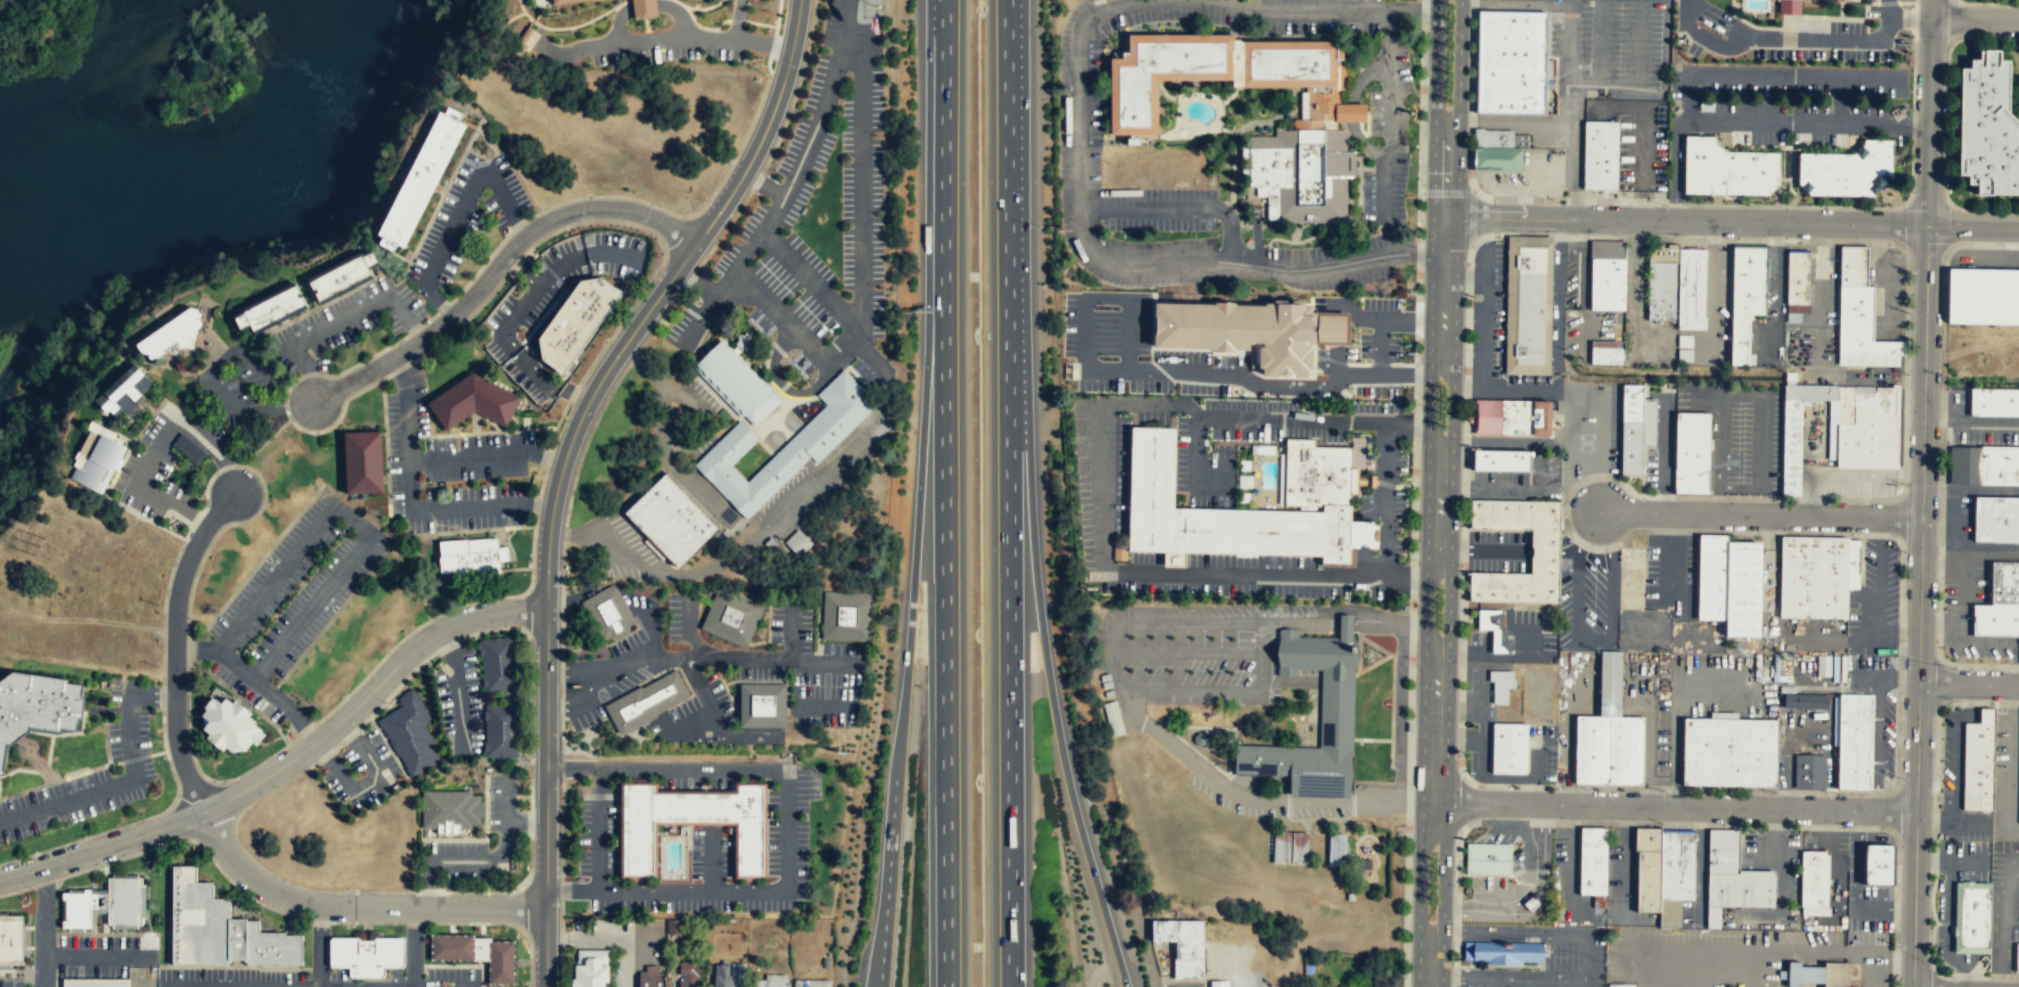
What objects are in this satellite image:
building: (1849, 0)
building: (564, 1)
road: (1517, 3)
road: (1988, 3)
road: (1320, 7)
building: (1789, 7)
building: (642, 9)
road: (1931, 10)
road: (1910, 19)
road: (738, 21)
road: (1975, 21)
building: (1513, 29)
parking lot: (1782, 36)
road: (663, 40)
road: (1790, 40)
road: (1990, 43)
road: (1570, 44)
parking lot: (1604, 45)
building: (1512, 62)
road: (1638, 62)
road: (1433, 63)
road: (1457, 63)
road: (1764, 74)
road: (1871, 77)
road: (1420, 95)
building: (1511, 96)
road: (1567, 106)
road: (1616, 107)
road: (1752, 121)
road: (1929, 123)
road: (1946, 124)
building: (1133, 128)
building: (1986, 128)
building: (1493, 138)
parking lot: (1636, 139)
road: (1642, 149)
building: (1600, 155)
road: (658, 156)
building: (1498, 159)
building: (1729, 170)
road: (1570, 171)
building: (1846, 171)
street lamp: (1469, 173)
parking lot: (1528, 175)
road: (794, 177)
building: (421, 179)
road: (764, 185)
street lamp: (1948, 185)
river: (231, 186)
road: (1641, 205)
street lamp: (1892, 205)
road: (458, 212)
road: (1685, 221)
road: (1973, 227)
road: (1444, 247)
road: (1119, 262)
road: (496, 266)
building: (1851, 266)
street lamp: (1911, 271)
parking lot: (1576, 274)
road: (860, 275)
building: (343, 276)
road: (1820, 276)
building: (1796, 278)
road: (809, 281)
road: (1582, 281)
building: (1745, 281)
building: (1604, 284)
building: (1661, 285)
building: (1690, 289)
road: (1713, 290)
parking lot: (1886, 292)
road: (1885, 294)
building: (1982, 295)
road: (655, 300)
road: (1556, 304)
road: (1508, 306)
building: (1530, 306)
building: (273, 310)
road: (1484, 313)
parking lot: (1709, 318)
building: (574, 323)
road: (1591, 323)
building: (1858, 325)
building: (1241, 331)
parking lot: (1496, 331)
road: (1905, 335)
building: (167, 337)
building: (1737, 340)
building: (1604, 352)
street lamp: (1465, 370)
road: (1924, 372)
street lamp: (1941, 374)
road: (1507, 375)
building: (736, 384)
road: (1506, 385)
road: (1504, 388)
building: (123, 391)
building: (1808, 392)
road: (1578, 394)
road: (1762, 396)
building: (1994, 401)
building: (473, 402)
road: (1427, 408)
road: (1452, 408)
road: (701, 415)
road: (884, 416)
building: (1516, 416)
road: (1971, 426)
road: (1601, 427)
building: (1865, 427)
road: (663, 428)
building: (1633, 428)
parking lot: (1588, 430)
building: (1830, 431)
parking lot: (1737, 435)
parking lot: (1661, 439)
road: (265, 440)
road: (1567, 442)
road: (159, 444)
building: (784, 447)
road: (1664, 447)
building: (1789, 448)
building: (187, 450)
building: (1688, 453)
building: (1506, 459)
building: (96, 460)
road: (1192, 461)
building: (362, 462)
parking lot: (1833, 462)
road: (228, 465)
road: (242, 465)
building: (1962, 465)
building: (1997, 465)
road: (1506, 469)
road: (1537, 471)
building: (1318, 474)
road: (1845, 475)
road: (232, 478)
parking lot: (1520, 481)
road: (1100, 484)
street lamp: (1907, 484)
road: (1600, 485)
road: (109, 486)
road: (207, 486)
road: (1504, 487)
road: (1970, 490)
road: (944, 493)
road: (1009, 493)
road: (1386, 499)
road: (1716, 500)
road: (795, 505)
road: (1438, 506)
road: (1760, 514)
road: (198, 515)
building: (1218, 516)
road: (198, 517)
road: (353, 519)
building: (1995, 519)
building: (670, 521)
building: (798, 544)
road: (1481, 549)
road: (1982, 550)
building: (1547, 551)
building: (1119, 553)
building: (471, 557)
street lamp: (1461, 565)
road: (1672, 568)
road: (1943, 568)
road: (661, 573)
parking lot: (1670, 574)
building: (1816, 576)
building: (1708, 578)
building: (2004, 582)
road: (912, 583)
building: (1739, 591)
parking lot: (1589, 598)
road: (1920, 600)
road: (164, 602)
parking lot: (290, 602)
road: (312, 606)
road: (1423, 607)
road: (1448, 607)
road: (245, 613)
building: (608, 614)
building: (845, 615)
road: (436, 616)
building: (732, 617)
building: (1995, 620)
road: (1942, 621)
road: (1964, 629)
building: (1495, 630)
road: (1356, 631)
road: (1588, 639)
road: (1375, 644)
road: (176, 647)
road: (197, 649)
parking lot: (1195, 649)
road: (1188, 652)
road: (1395, 652)
road: (187, 654)
fountain: (1370, 654)
road: (1260, 656)
street lamp: (1904, 656)
road: (1498, 657)
road: (2015, 662)
building: (497, 664)
building: (1822, 666)
road: (1046, 668)
road: (1359, 671)
road: (1885, 676)
road: (1118, 682)
building: (1613, 684)
road: (1969, 684)
building: (1501, 685)
road: (1189, 690)
road: (150, 694)
road: (370, 694)
road: (162, 696)
road: (1393, 696)
building: (647, 702)
building: (1804, 702)
building: (36, 704)
parking lot: (82, 706)
building: (762, 706)
road: (104, 707)
road: (255, 708)
road: (1671, 709)
building: (1336, 716)
building: (1113, 719)
building: (229, 724)
road: (305, 725)
road: (306, 730)
building: (500, 731)
building: (410, 735)
road: (1215, 735)
road: (1239, 735)
road: (1179, 737)
building: (1199, 738)
road: (1370, 739)
road: (270, 740)
road: (1391, 740)
road: (1434, 740)
building: (1852, 741)
flagpole: (1360, 742)
road: (1877, 743)
road: (1292, 746)
road: (1958, 747)
building: (1509, 749)
building: (1595, 751)
building: (1629, 751)
road: (158, 752)
road: (1391, 753)
building: (1726, 755)
road: (134, 757)
building: (1977, 761)
road: (2013, 761)
street lamp: (1457, 762)
road: (1352, 764)
road: (602, 767)
road: (698, 767)
road: (761, 767)
building: (1808, 772)
street lamp: (1901, 777)
road: (59, 780)
road: (599, 781)
road: (191, 785)
road: (108, 786)
street lamp: (1662, 790)
street lamp: (1838, 793)
road: (507, 797)
road: (545, 798)
road: (1352, 803)
road: (1675, 807)
building: (451, 812)
road: (1346, 817)
road: (1315, 818)
road: (1950, 820)
road: (135, 821)
building: (692, 823)
road: (508, 826)
road: (1310, 827)
road: (598, 834)
road: (1915, 835)
building: (1281, 846)
road: (102, 847)
building: (1299, 847)
building: (1336, 849)
building: (1725, 851)
road: (1626, 852)
road: (1836, 855)
building: (1488, 857)
road: (712, 858)
road: (1701, 859)
road: (1949, 859)
road: (458, 860)
building: (1596, 862)
building: (1365, 863)
building: (1874, 863)
building: (1679, 867)
road: (1574, 873)
building: (1817, 879)
building: (1656, 880)
road: (597, 881)
road: (429, 883)
road: (1782, 886)
road: (1858, 886)
road: (1419, 887)
road: (1442, 888)
parking lot: (1572, 888)
road: (566, 889)
road: (749, 891)
road: (1528, 892)
building: (1741, 893)
building: (1350, 896)
building: (1601, 901)
building: (1530, 903)
building: (105, 904)
road: (354, 905)
road: (1541, 906)
building: (1974, 917)
road: (2002, 921)
building: (673, 926)
road: (43, 927)
road: (1946, 928)
building: (221, 930)
building: (10, 939)
building: (1182, 945)
road: (319, 946)
road: (414, 946)
street lamp: (1897, 946)
road: (1751, 948)
building: (1503, 952)
building: (479, 953)
building: (367, 955)
road: (95, 956)
building: (2017, 957)
road: (1584, 964)
road: (1429, 965)
building: (590, 968)
building: (1809, 972)
building: (1840, 974)
building: (688, 975)
building: (723, 976)
building: (651, 977)
building: (1382, 980)
building: (769, 981)
building: (95, 983)
building: (812, 984)
building: (1219, 984)

